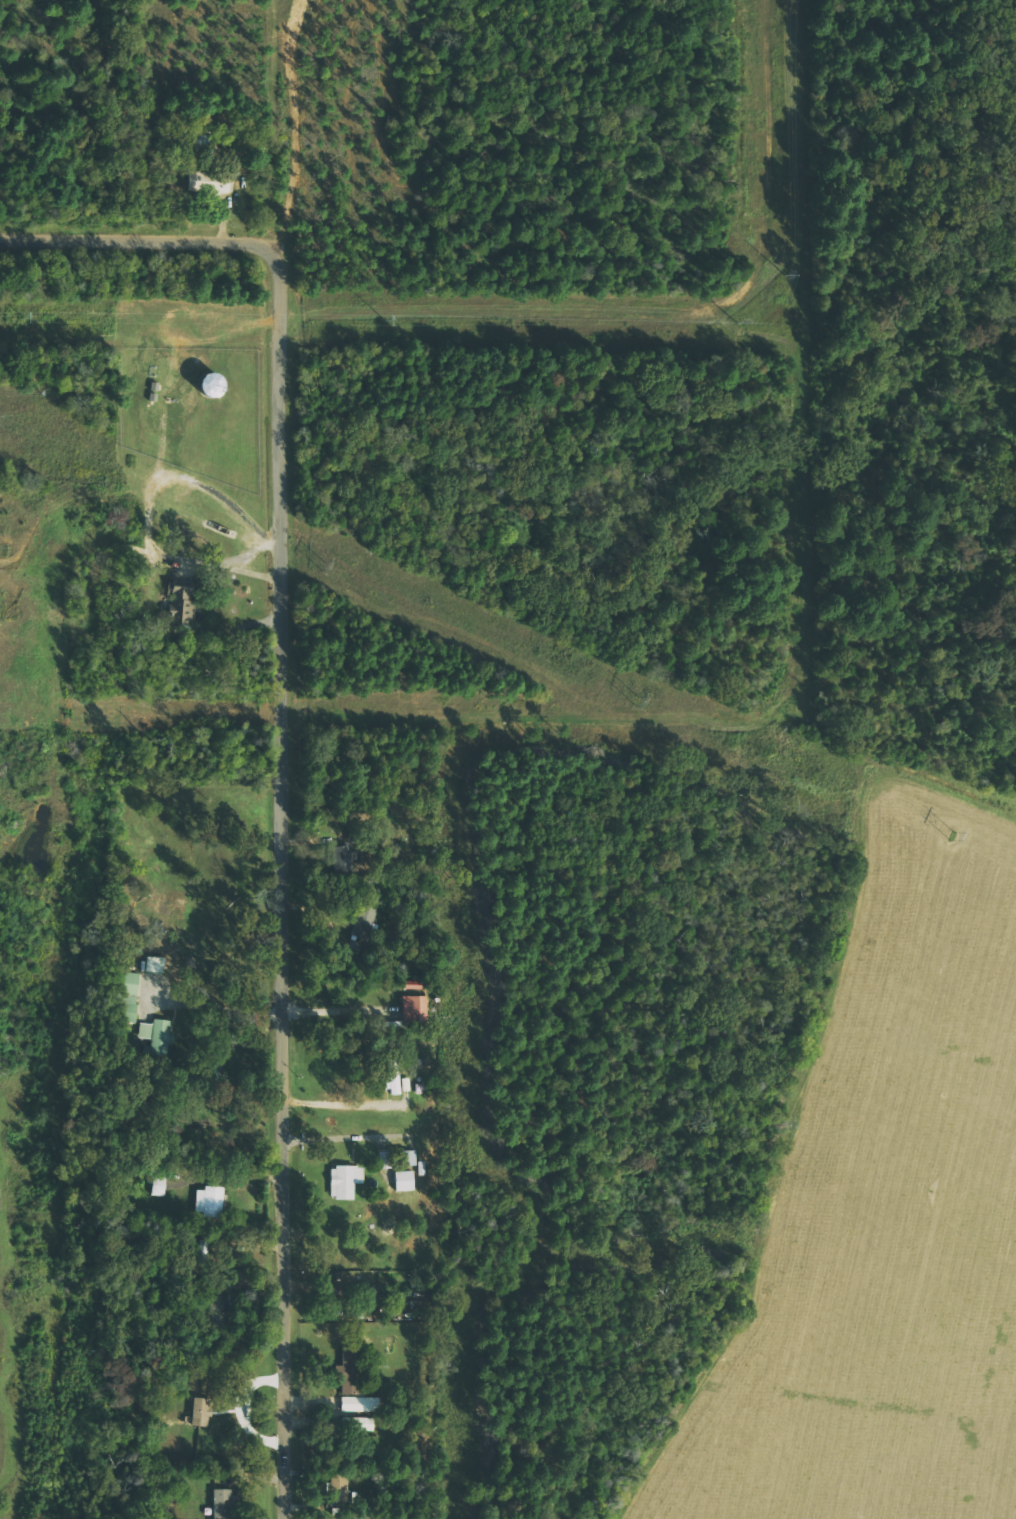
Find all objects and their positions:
building: (205, 180)
power tower: (320, 564)
building: (182, 606)
power tower: (620, 697)
road: (287, 747)
power tower: (934, 828)
building: (341, 854)
building: (365, 922)
building: (154, 964)
building: (129, 996)
building: (416, 1007)
building: (156, 1035)
building: (393, 1081)
road: (342, 1104)
road: (346, 1139)
building: (410, 1158)
building: (344, 1181)
building: (404, 1181)
building: (158, 1186)
building: (209, 1202)
building: (218, 1310)
building: (347, 1371)
building: (361, 1404)
building: (200, 1412)
building: (221, 1504)

